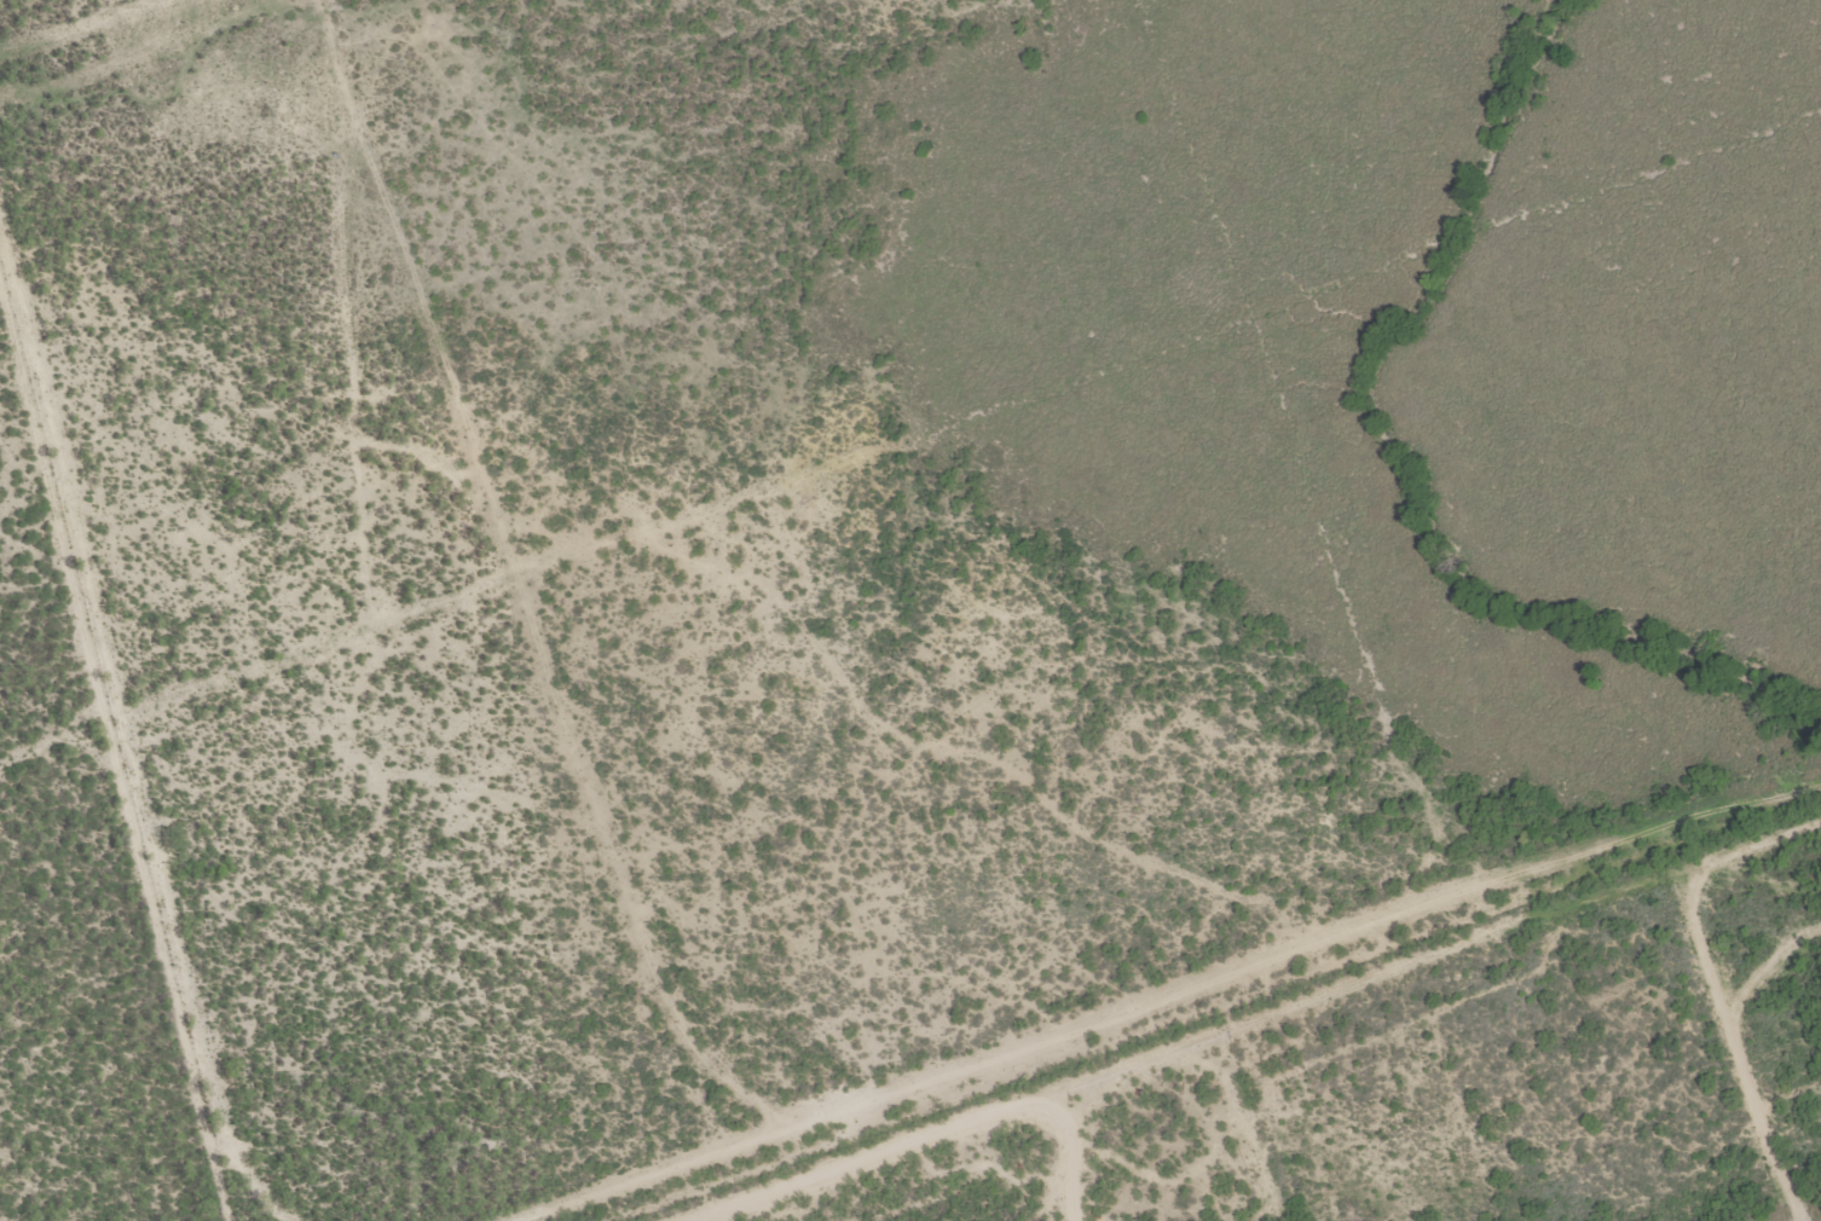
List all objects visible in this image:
road: (1258, 1020)

